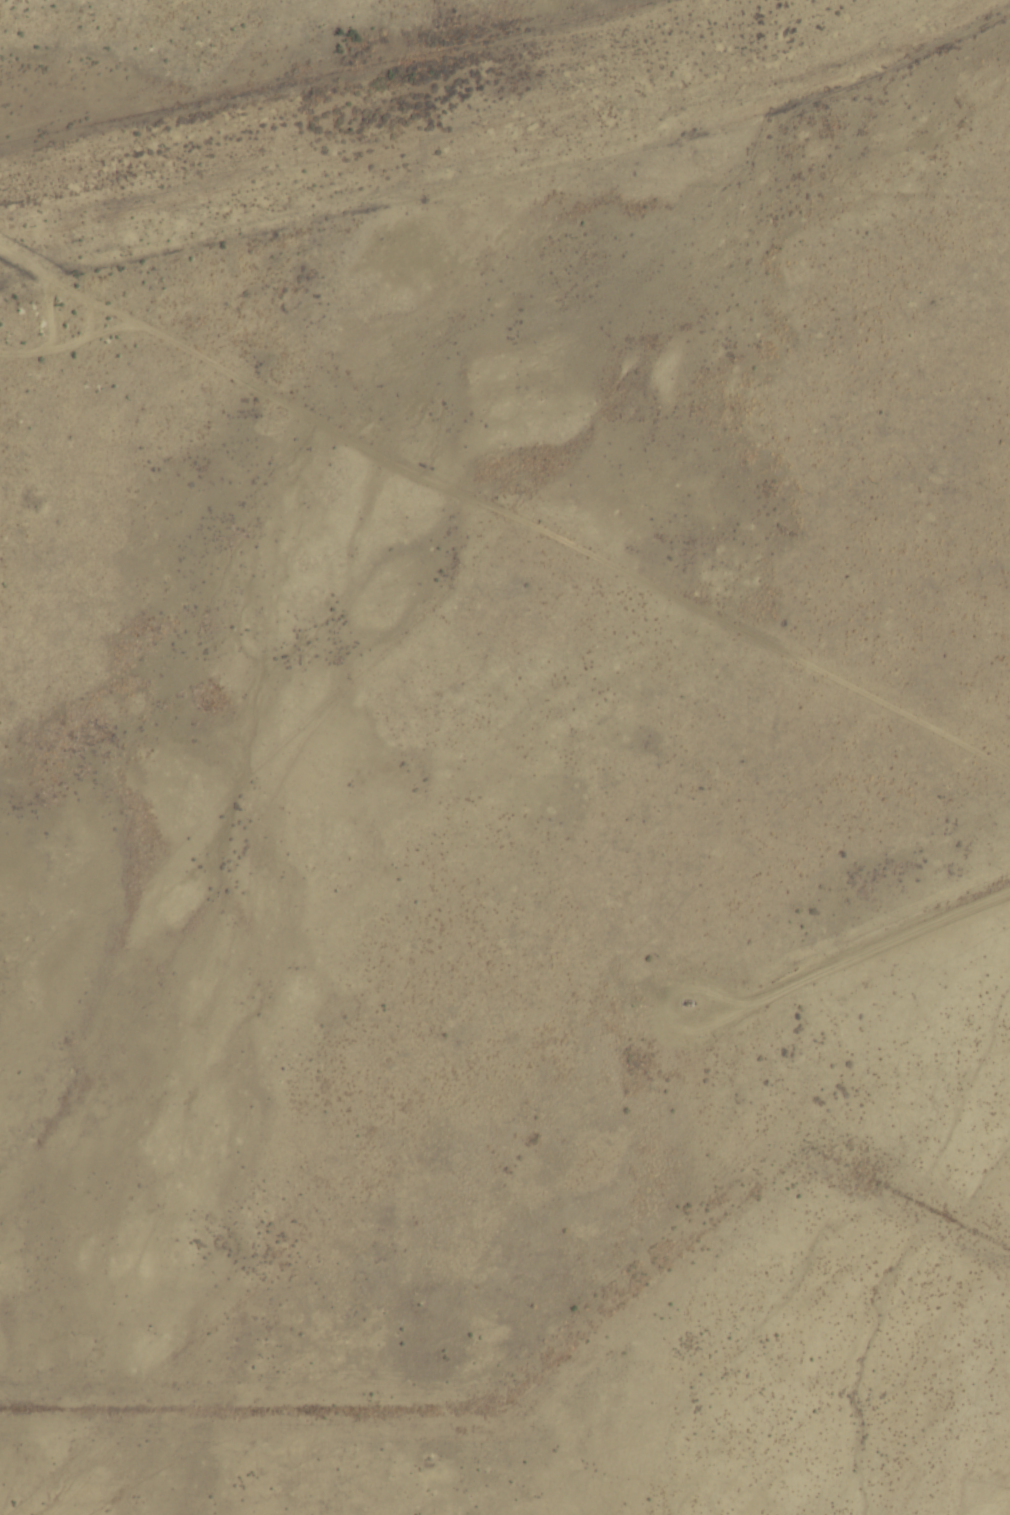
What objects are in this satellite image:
road: (93, 314)
road: (73, 340)
road: (502, 507)
road: (855, 949)

